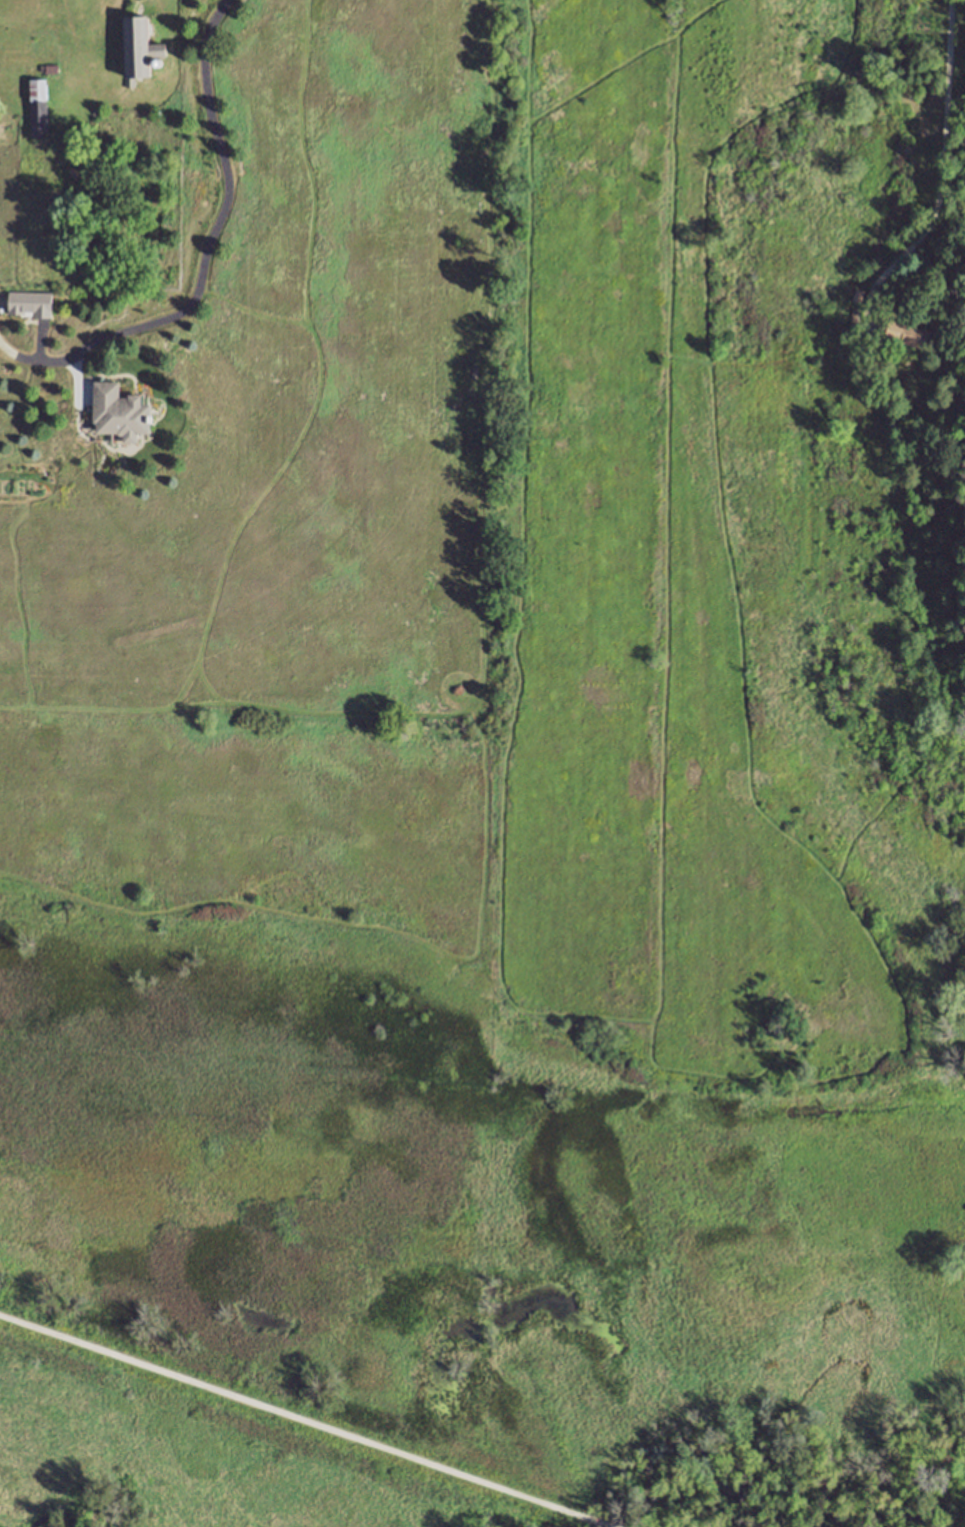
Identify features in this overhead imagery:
building: (139, 48)
building: (39, 108)
road: (942, 180)
road: (221, 218)
building: (857, 296)
building: (30, 303)
building: (855, 318)
building: (909, 333)
building: (120, 411)
road: (286, 1415)
road: (590, 1521)

